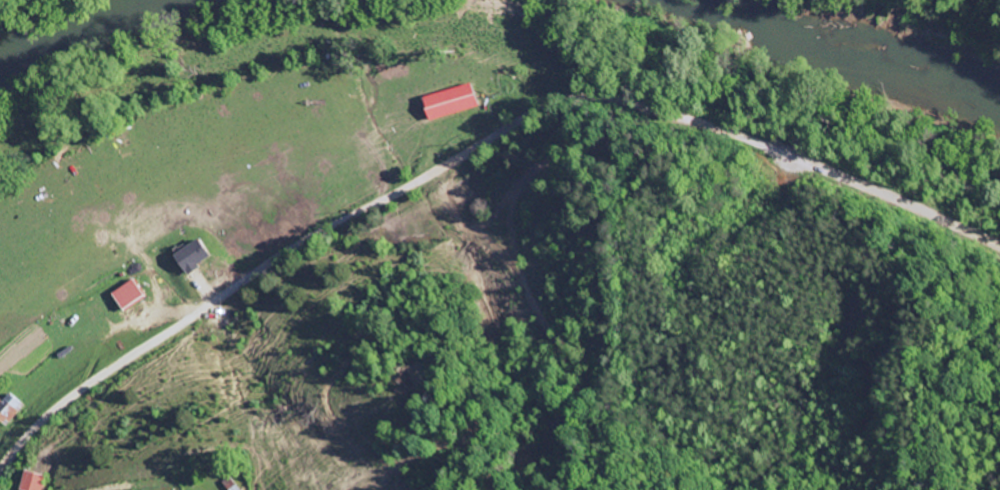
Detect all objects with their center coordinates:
river: (101, 32)
river: (859, 54)
building: (448, 104)
road: (470, 166)
building: (186, 258)
building: (121, 298)
building: (5, 411)
building: (31, 482)

